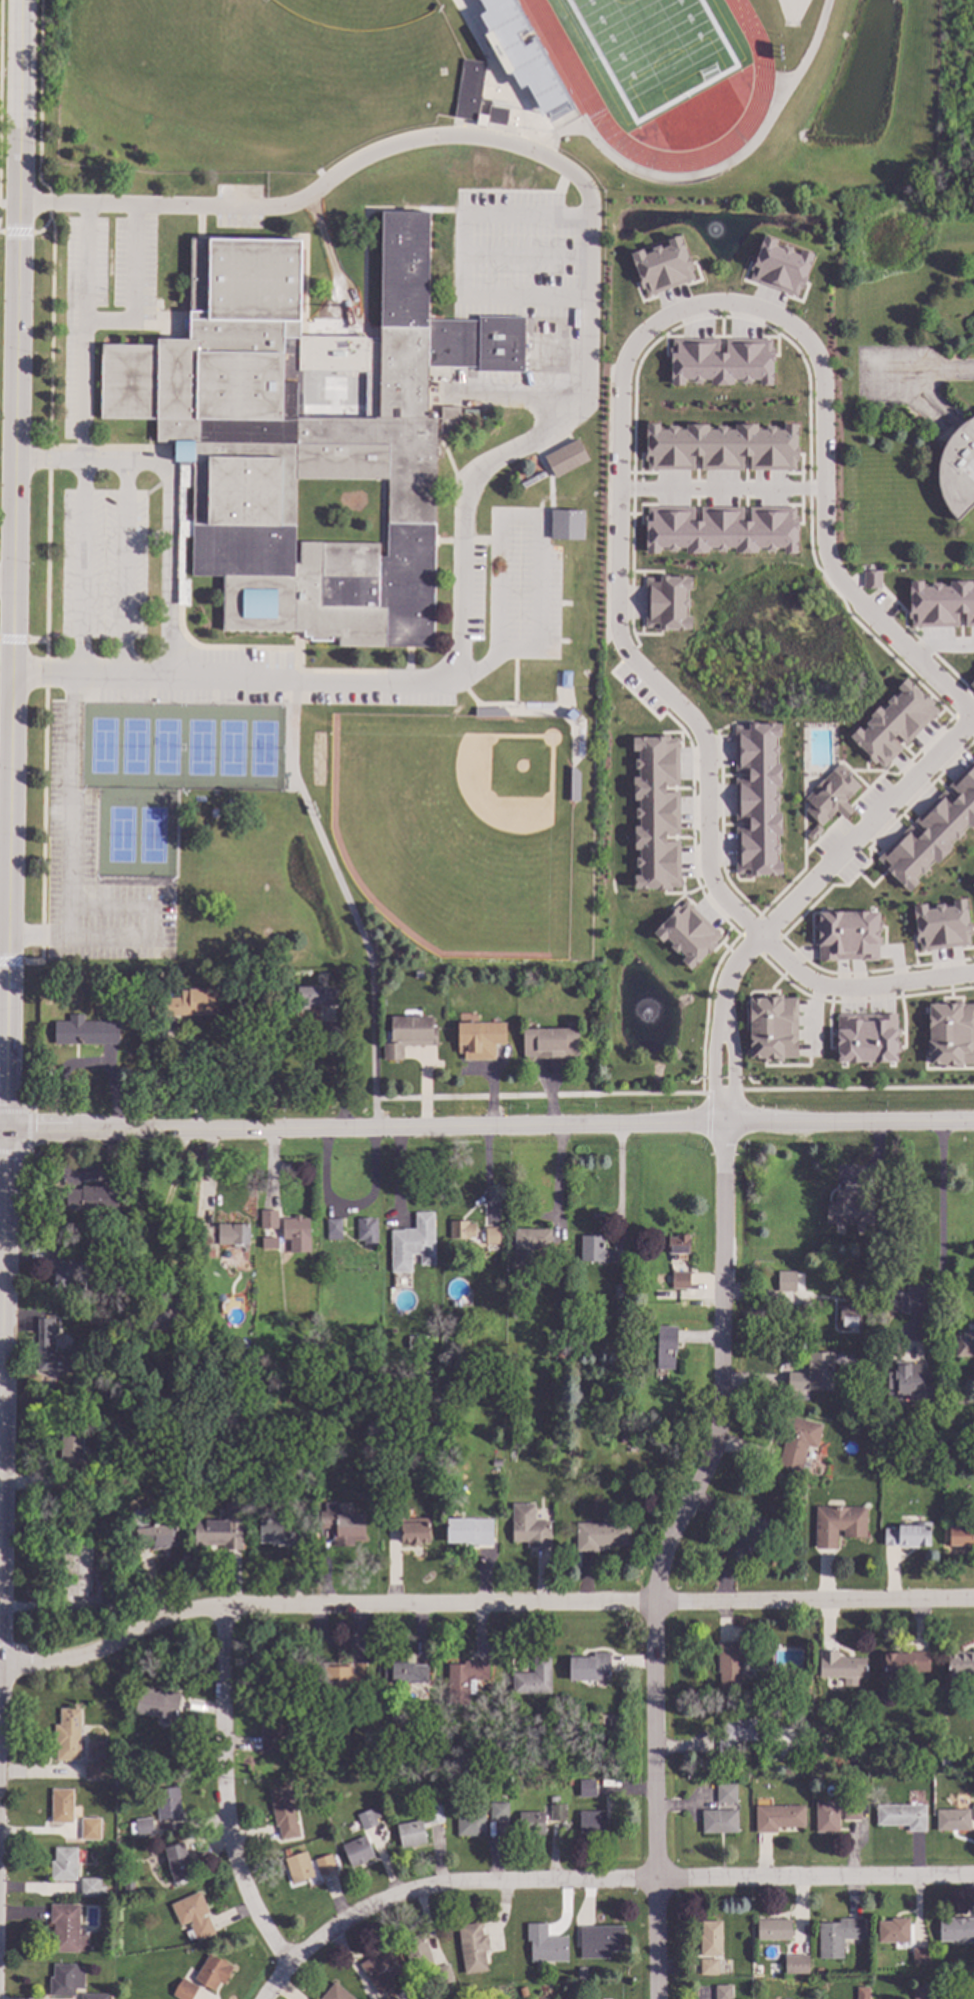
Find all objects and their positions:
park: (791, 11)
park: (358, 12)
park: (146, 33)
park: (654, 47)
building: (522, 55)
building: (467, 89)
building: (496, 115)
building: (480, 120)
track: (669, 161)
road: (711, 173)
road: (8, 198)
road: (462, 255)
road: (526, 255)
building: (662, 267)
building: (779, 267)
road: (774, 313)
road: (107, 323)
building: (720, 361)
road: (947, 372)
road: (589, 387)
road: (83, 391)
building: (320, 392)
road: (516, 396)
building: (303, 433)
building: (720, 448)
building: (565, 458)
road: (87, 459)
building: (957, 469)
road: (720, 489)
road: (507, 517)
building: (566, 525)
building: (720, 530)
road: (10, 566)
road: (82, 566)
road: (125, 566)
road: (165, 566)
road: (5, 578)
building: (871, 580)
building: (666, 603)
building: (940, 604)
road: (941, 644)
building: (971, 685)
building: (496, 692)
building: (559, 701)
building: (489, 712)
building: (893, 724)
park: (168, 771)
road: (704, 794)
building: (828, 795)
building: (756, 800)
building: (656, 813)
park: (456, 827)
building: (931, 832)
road: (70, 836)
road: (4, 865)
building: (973, 887)
road: (796, 898)
road: (347, 900)
road: (4, 918)
road: (151, 923)
building: (941, 926)
building: (846, 935)
building: (709, 938)
road: (4, 940)
building: (154, 974)
building: (418, 974)
building: (507, 974)
building: (140, 979)
road: (857, 990)
building: (316, 996)
building: (191, 1002)
road: (813, 1019)
building: (770, 1027)
building: (85, 1031)
building: (949, 1033)
building: (408, 1035)
building: (480, 1038)
building: (866, 1038)
building: (550, 1042)
road: (189, 1082)
road: (13, 1112)
road: (674, 1122)
road: (189, 1130)
road: (2, 1134)
road: (27, 1146)
road: (619, 1179)
building: (93, 1197)
road: (1, 1198)
building: (848, 1207)
road: (349, 1209)
building: (269, 1218)
building: (461, 1228)
building: (334, 1229)
building: (367, 1230)
road: (939, 1230)
building: (296, 1231)
building: (232, 1233)
building: (492, 1234)
building: (206, 1236)
building: (87, 1240)
building: (270, 1242)
building: (413, 1243)
building: (529, 1244)
building: (678, 1245)
building: (600, 1250)
building: (63, 1266)
road: (0, 1275)
building: (205, 1276)
building: (786, 1279)
building: (680, 1280)
building: (617, 1291)
building: (897, 1301)
road: (1, 1305)
building: (165, 1314)
building: (849, 1315)
building: (112, 1321)
building: (649, 1323)
building: (967, 1337)
building: (410, 1342)
building: (667, 1346)
building: (54, 1350)
building: (494, 1357)
building: (812, 1372)
building: (944, 1377)
building: (909, 1380)
road: (1, 1393)
building: (870, 1418)
building: (622, 1438)
building: (797, 1441)
building: (297, 1455)
building: (71, 1459)
building: (342, 1524)
building: (838, 1524)
building: (529, 1525)
building: (409, 1526)
building: (222, 1528)
building: (469, 1530)
building: (281, 1532)
building: (157, 1534)
building: (601, 1534)
building: (907, 1535)
building: (961, 1535)
building: (112, 1540)
building: (747, 1540)
road: (662, 1554)
building: (77, 1571)
building: (110, 1597)
road: (481, 1603)
road: (6, 1646)
building: (905, 1662)
building: (960, 1662)
building: (729, 1664)
building: (841, 1665)
building: (589, 1666)
building: (405, 1672)
building: (343, 1674)
building: (533, 1677)
building: (464, 1678)
building: (158, 1702)
building: (306, 1705)
building: (802, 1726)
building: (274, 1728)
building: (735, 1733)
building: (68, 1734)
building: (612, 1734)
building: (422, 1735)
building: (97, 1752)
building: (853, 1755)
building: (944, 1762)
building: (372, 1764)
building: (128, 1768)
building: (95, 1770)
building: (940, 1780)
building: (568, 1781)
building: (151, 1785)
building: (587, 1787)
building: (726, 1793)
building: (861, 1796)
building: (554, 1798)
building: (167, 1802)
building: (62, 1805)
building: (620, 1808)
building: (498, 1810)
building: (851, 1810)
building: (283, 1811)
building: (557, 1811)
building: (973, 1811)
road: (227, 1812)
building: (434, 1813)
building: (901, 1815)
building: (826, 1816)
building: (778, 1817)
building: (367, 1818)
building: (952, 1819)
building: (719, 1820)
building: (531, 1822)
building: (592, 1822)
building: (470, 1823)
building: (144, 1826)
building: (132, 1827)
building: (90, 1828)
building: (410, 1833)
building: (357, 1851)
building: (178, 1861)
building: (64, 1863)
building: (324, 1863)
building: (298, 1866)
road: (622, 1880)
building: (128, 1884)
building: (90, 1886)
building: (193, 1915)
building: (67, 1928)
building: (956, 1928)
building: (774, 1929)
building: (893, 1930)
building: (837, 1935)
building: (710, 1937)
building: (600, 1940)
building: (545, 1943)
building: (472, 1947)
building: (417, 1951)
building: (920, 1956)
building: (798, 1959)
building: (709, 1966)
building: (380, 1970)
building: (209, 1972)
building: (580, 1972)
building: (442, 1974)
building: (66, 1978)
building: (969, 1985)
building: (184, 1989)
building: (523, 1990)
building: (723, 1991)
building: (920, 1991)
building: (862, 1992)
building: (335, 1993)
building: (91, 1996)
building: (386, 1997)
building: (390, 1997)
building: (393, 1998)
building: (482, 1998)

